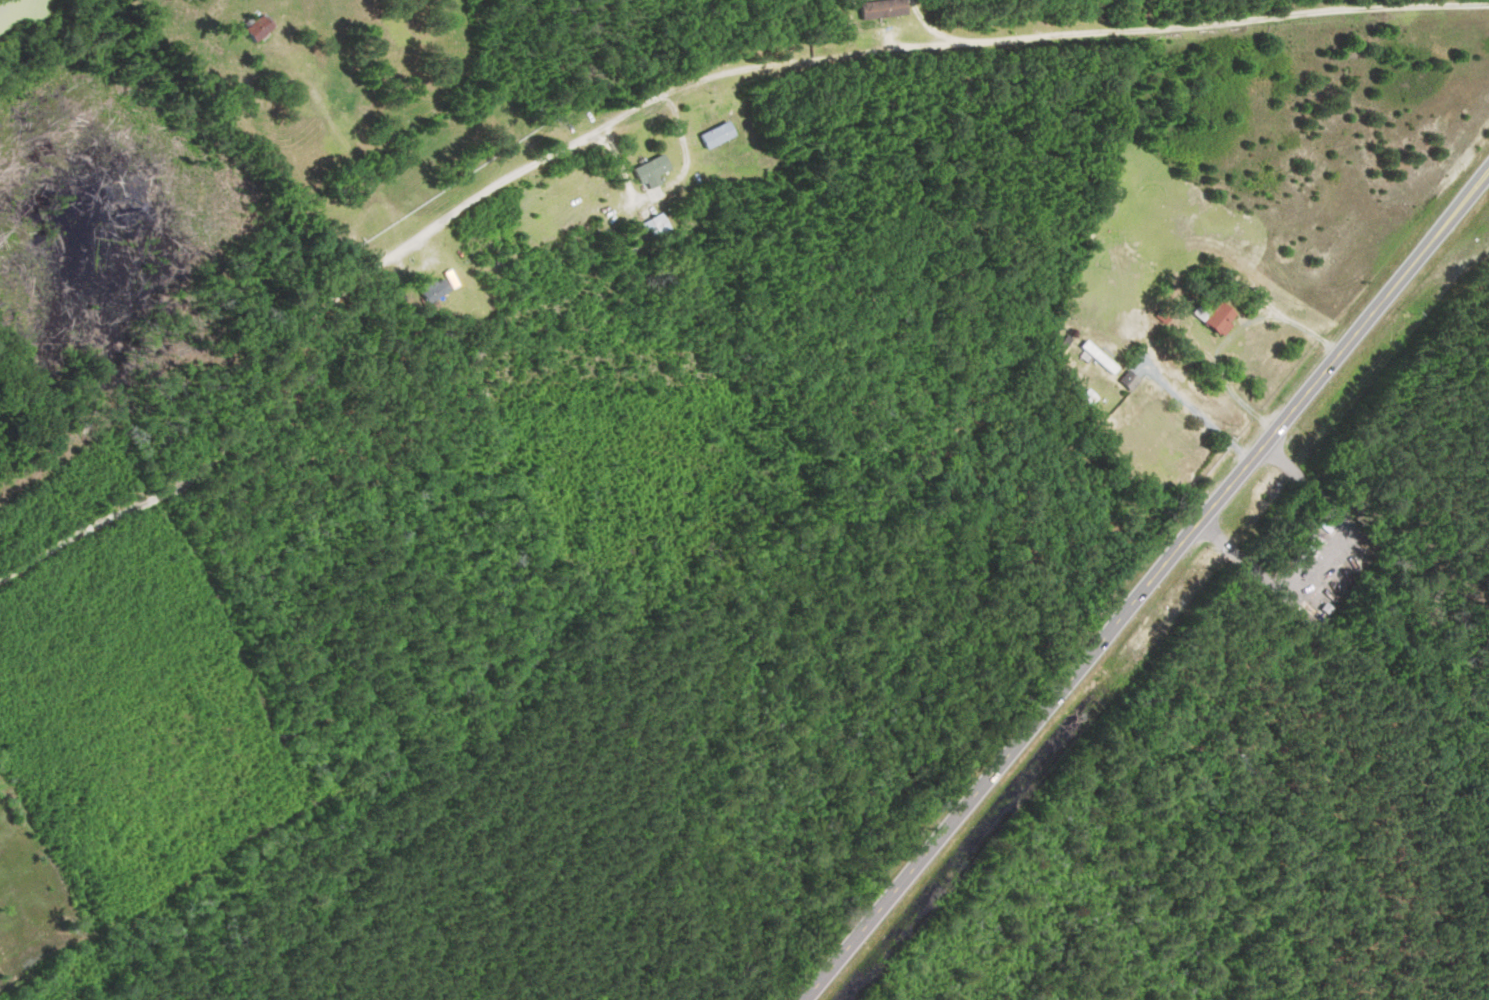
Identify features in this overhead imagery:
building: (885, 9)
building: (261, 26)
road: (661, 91)
building: (657, 172)
building: (661, 227)
building: (438, 289)
building: (1219, 316)
building: (1102, 358)
building: (1133, 380)
road: (1147, 586)

